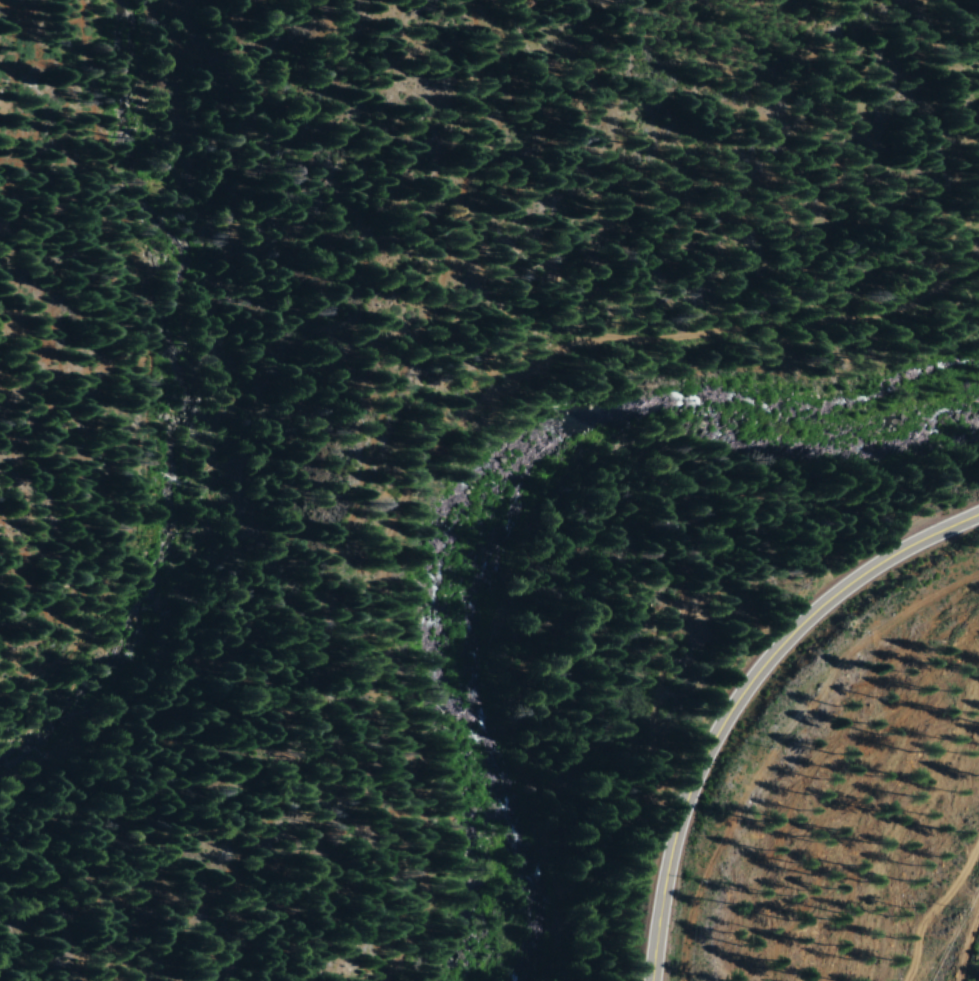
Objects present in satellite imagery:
road: (706, 335)
road: (453, 471)
road: (737, 692)

